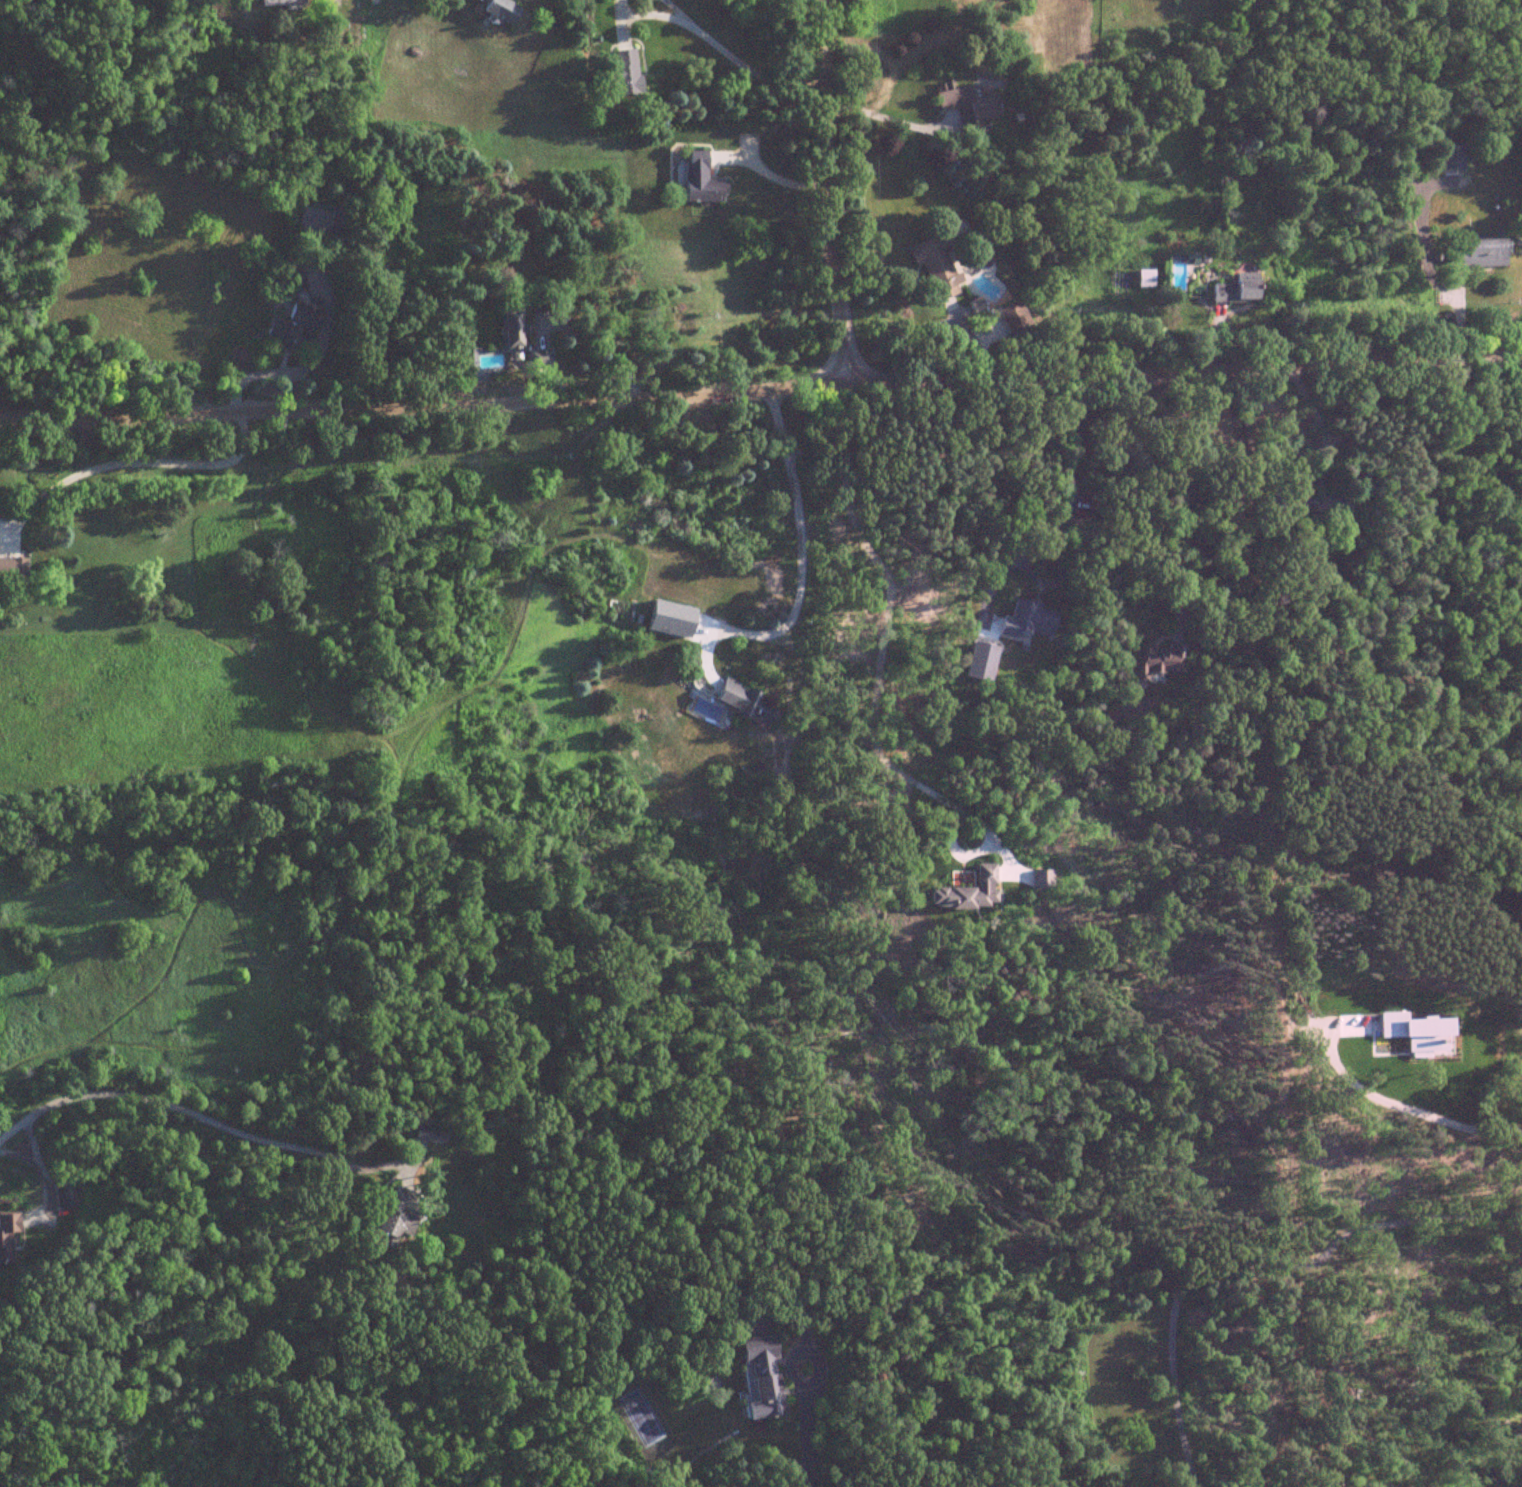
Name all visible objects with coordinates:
building: (280, 3)
building: (496, 11)
road: (679, 11)
road: (653, 15)
road: (749, 69)
building: (622, 73)
building: (966, 106)
road: (896, 121)
road: (769, 172)
building: (697, 180)
road: (826, 192)
building: (340, 226)
building: (1476, 254)
building: (934, 264)
building: (1143, 278)
building: (295, 283)
building: (1233, 288)
building: (293, 325)
building: (509, 329)
road: (761, 391)
road: (1314, 419)
road: (136, 462)
road: (1191, 486)
road: (1059, 508)
building: (1325, 513)
road: (800, 550)
building: (13, 569)
building: (1025, 621)
road: (880, 643)
building: (1154, 660)
building: (978, 662)
building: (744, 703)
building: (737, 862)
building: (966, 892)
building: (1415, 1031)
road: (178, 1106)
road: (1400, 1109)
building: (425, 1132)
road: (19, 1158)
road: (38, 1169)
building: (66, 1194)
building: (393, 1217)
building: (6, 1237)
road: (1251, 1265)
building: (758, 1378)
road: (808, 1427)

